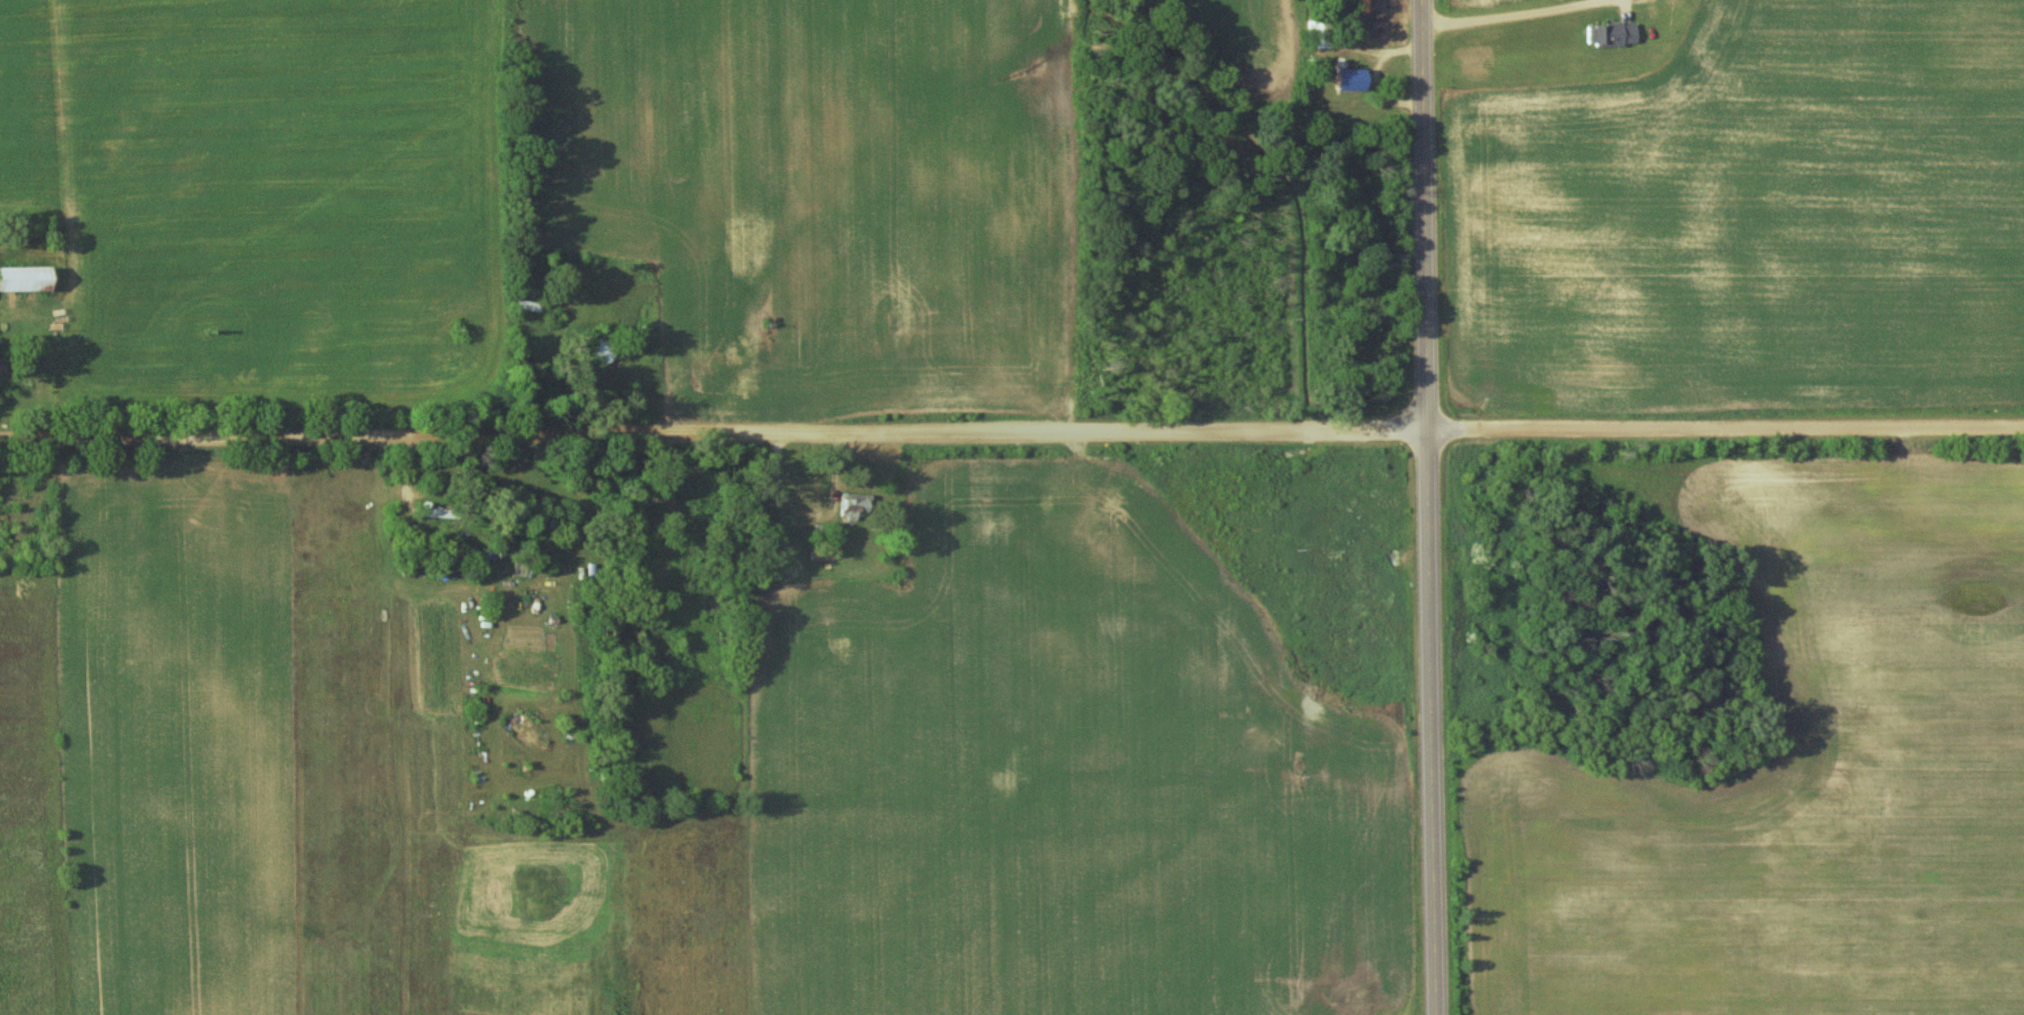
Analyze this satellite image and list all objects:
road: (1511, 13)
building: (1612, 34)
building: (1317, 36)
building: (1349, 78)
building: (24, 278)
building: (602, 350)
road: (1012, 436)
building: (853, 505)
road: (1430, 507)

